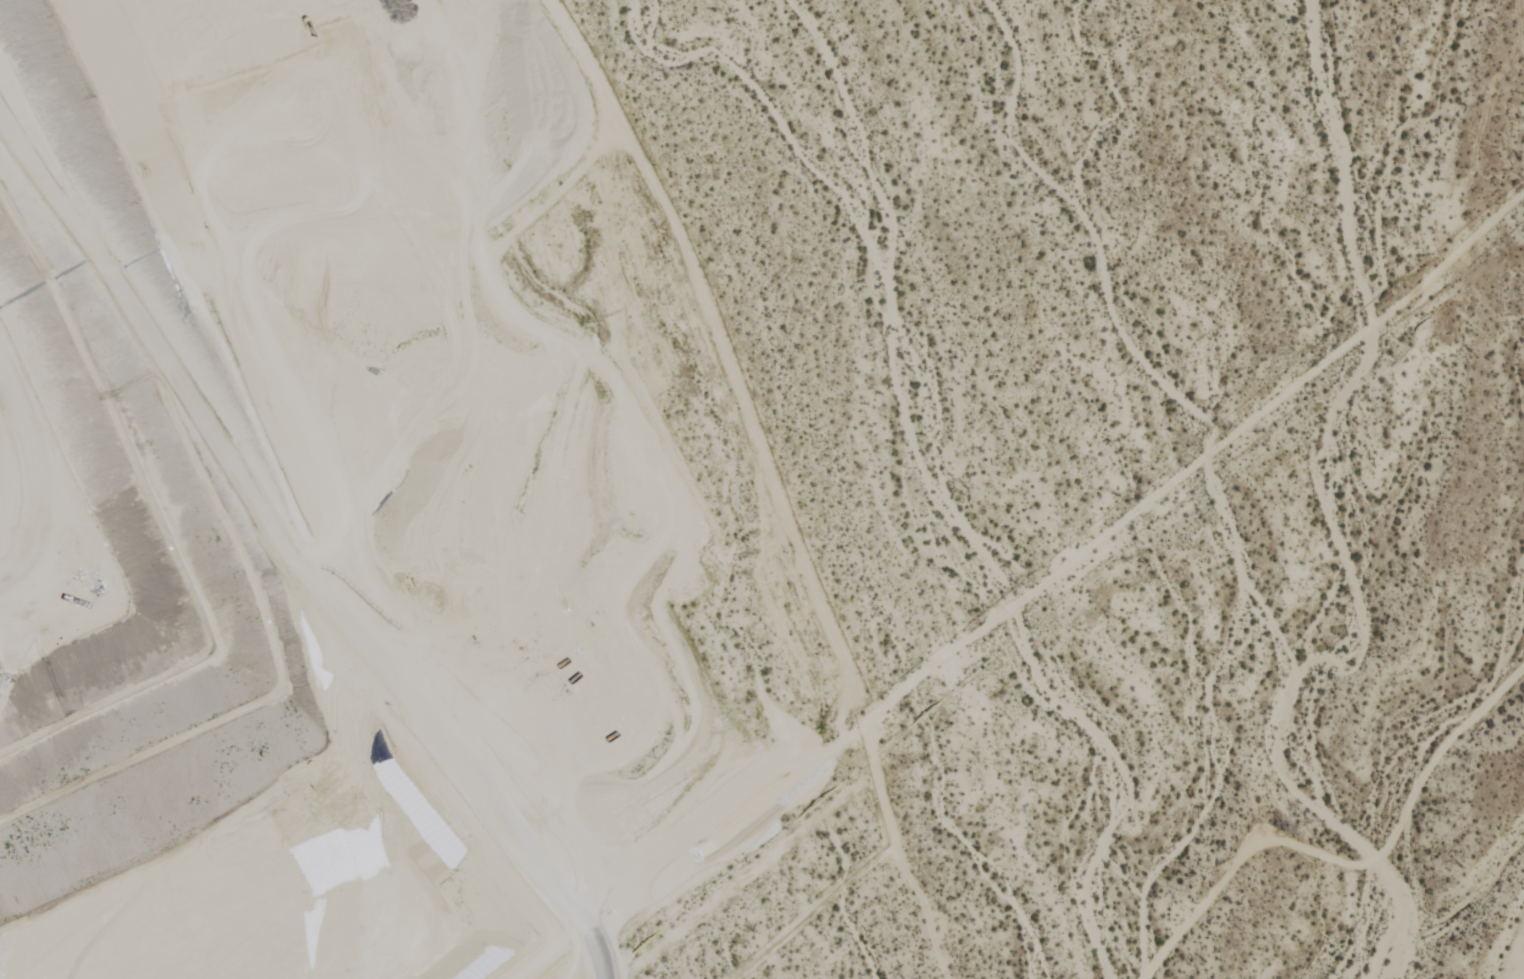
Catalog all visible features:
power tower: (1276, 823)

